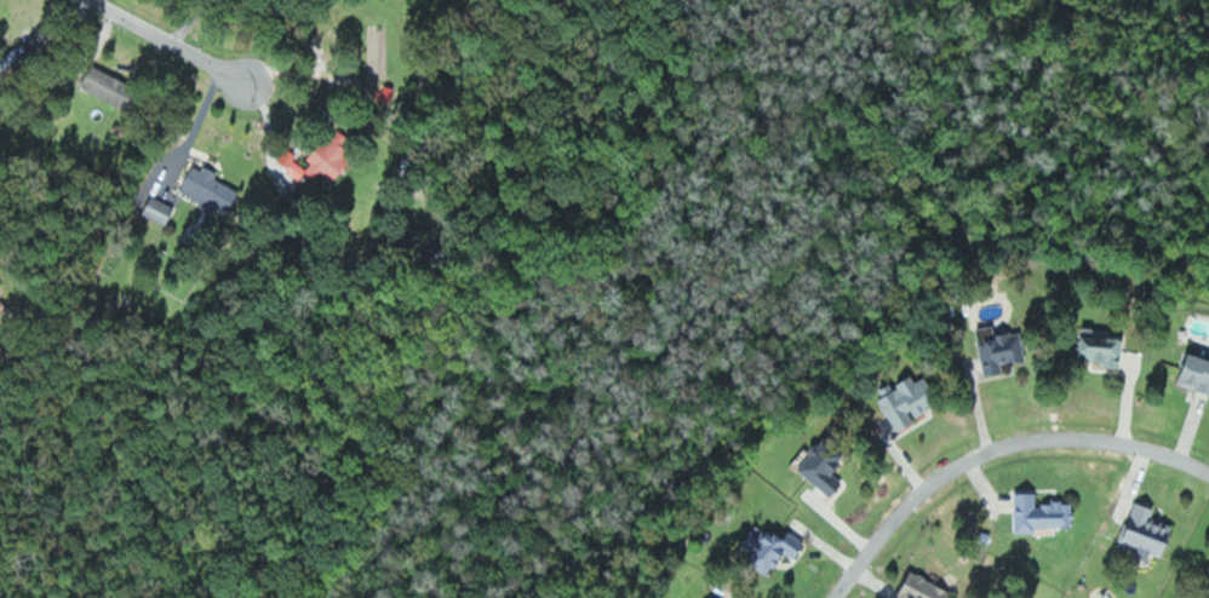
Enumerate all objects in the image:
road: (172, 41)
building: (111, 87)
building: (210, 189)
building: (160, 211)
building: (999, 347)
building: (1102, 347)
building: (1196, 372)
building: (907, 399)
road: (996, 449)
building: (825, 465)
building: (1041, 513)
building: (1148, 531)
building: (774, 545)
building: (923, 587)
building: (714, 597)

